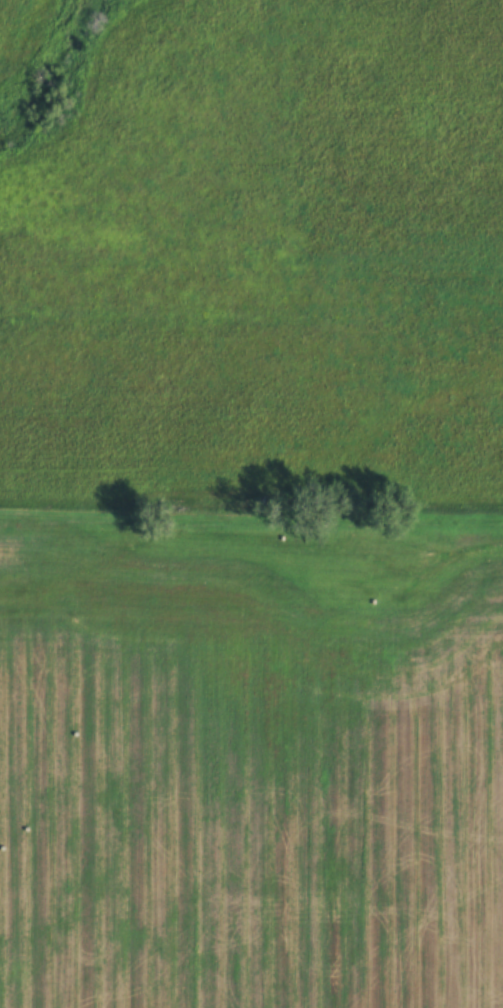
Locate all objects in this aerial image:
road: (251, 516)

